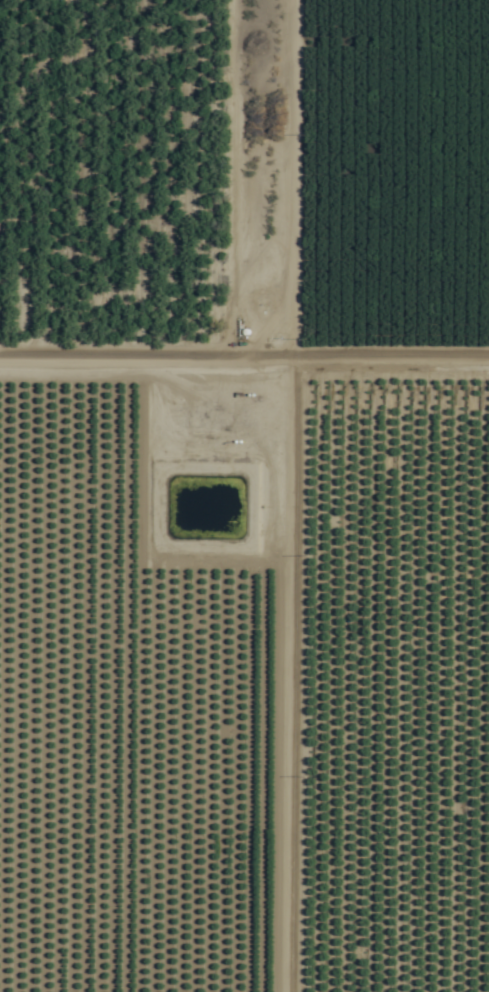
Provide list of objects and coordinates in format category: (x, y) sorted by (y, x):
road: (258, 496)
crop: (95, 845)

